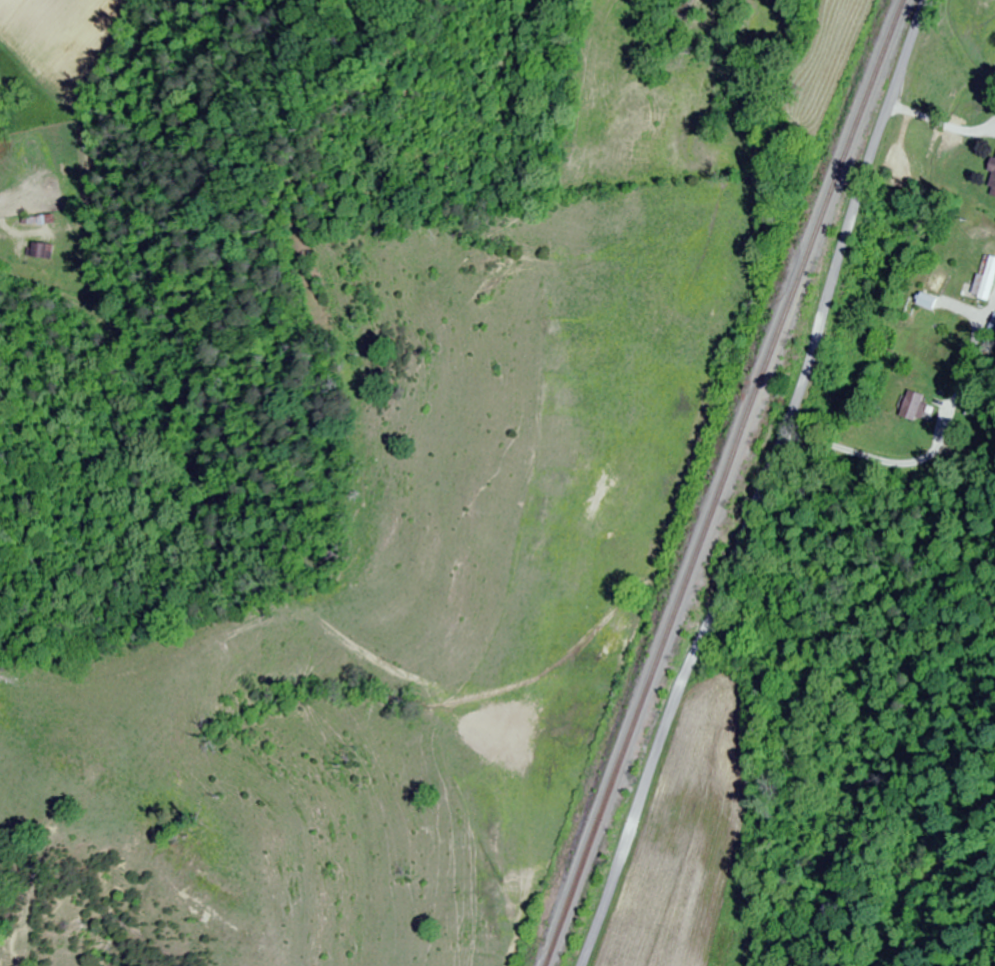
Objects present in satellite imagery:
building: (991, 176)
building: (35, 251)
building: (939, 276)
building: (985, 281)
building: (925, 301)
building: (912, 406)
railway: (723, 482)
road: (761, 485)

